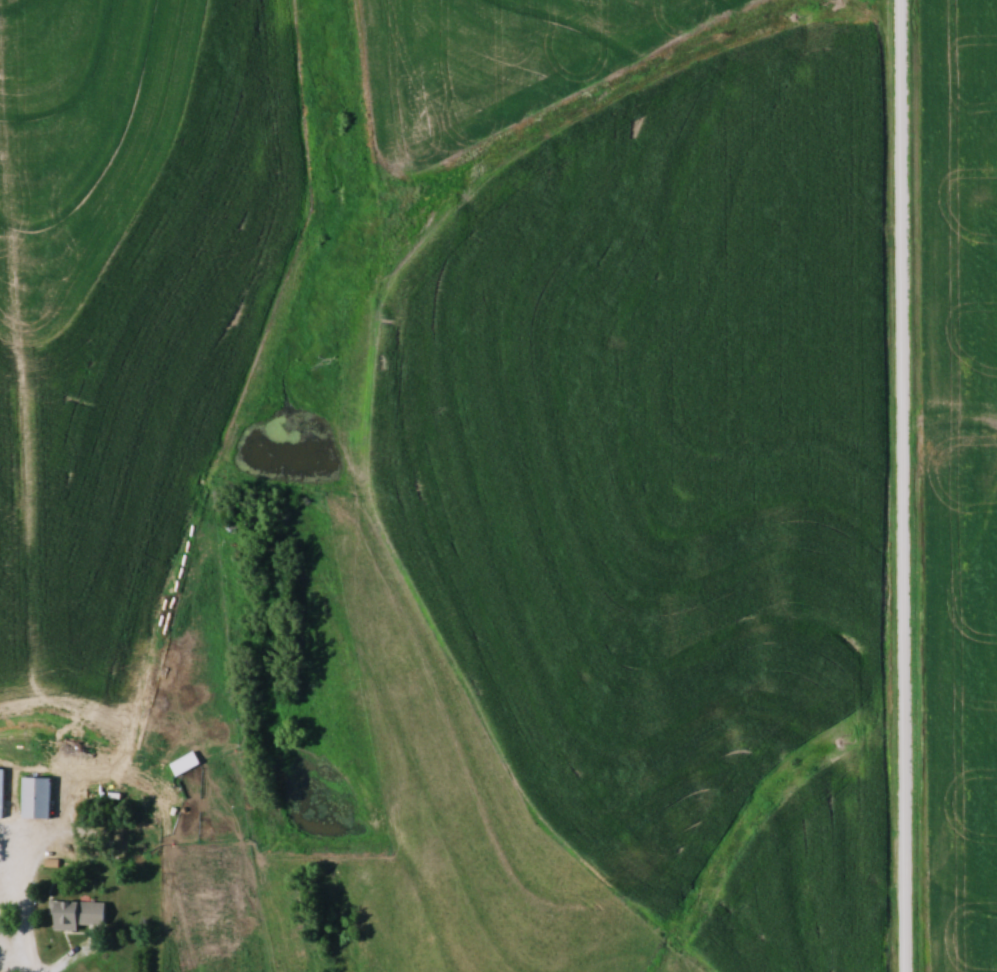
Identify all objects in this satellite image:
road: (907, 486)
building: (2, 792)
building: (38, 797)
road: (29, 908)
building: (81, 914)

